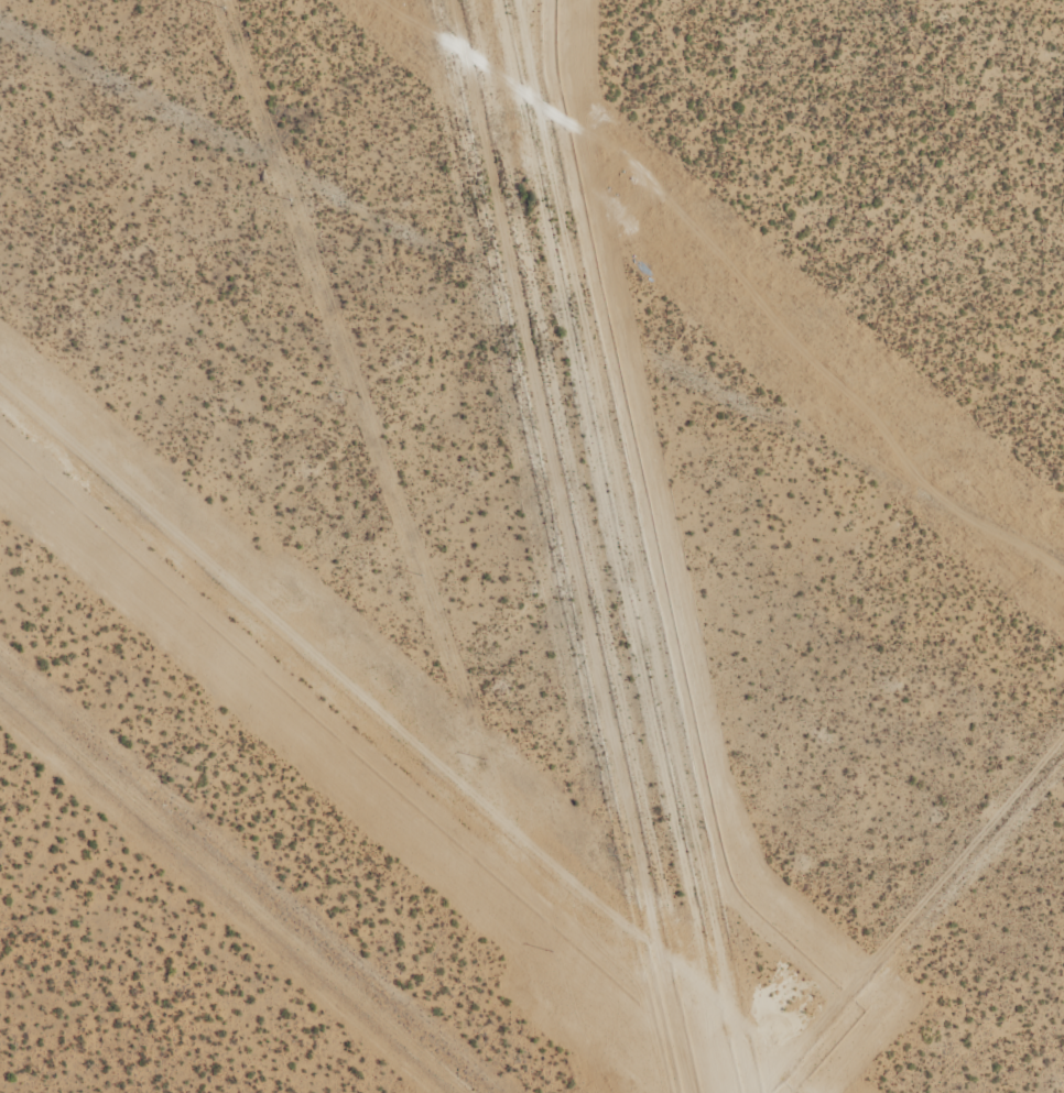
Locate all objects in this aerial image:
power tower: (618, 185)
road: (532, 310)

